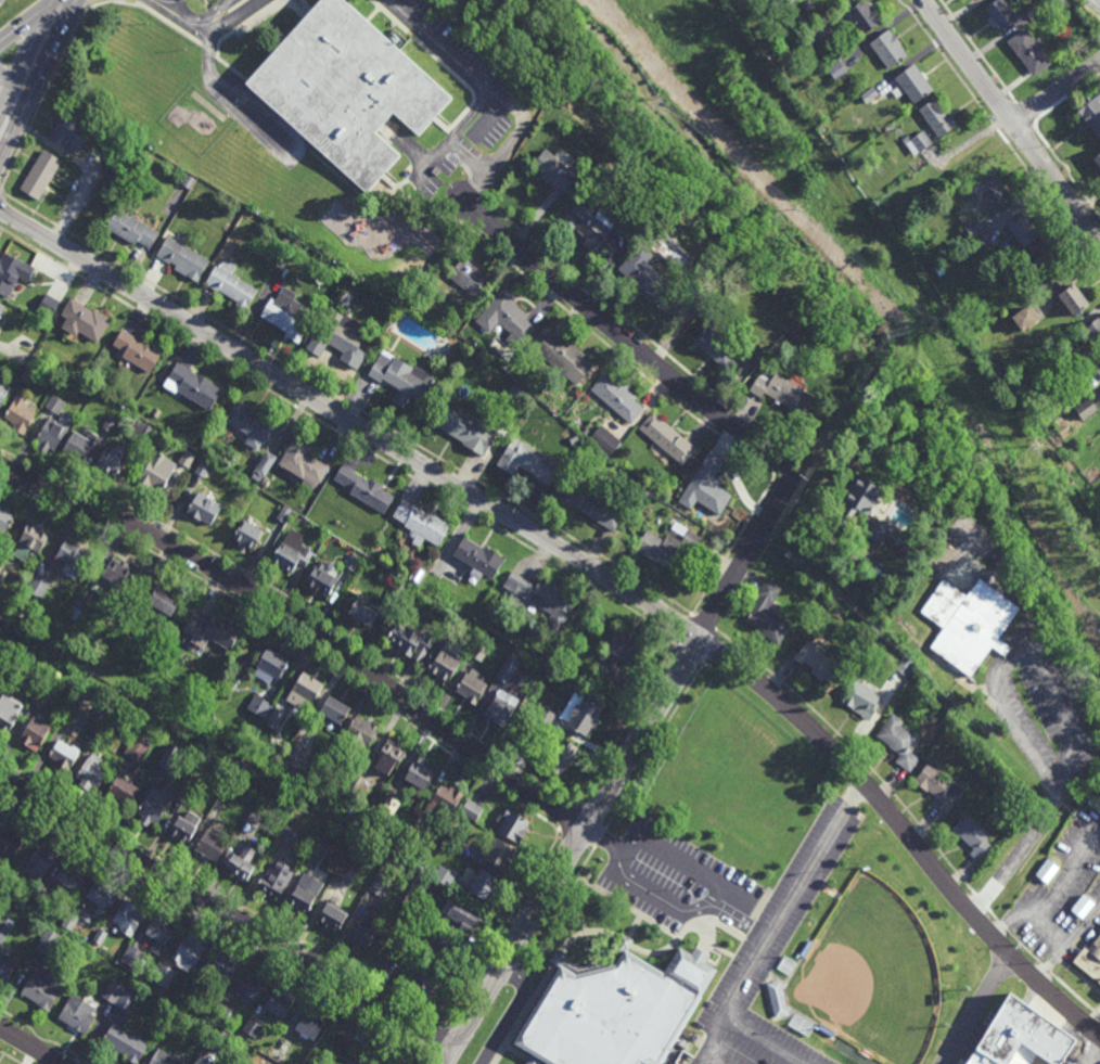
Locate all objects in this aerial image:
road: (120, 0)
building: (788, 0)
road: (230, 1)
road: (1097, 2)
road: (207, 3)
road: (239, 5)
road: (308, 5)
building: (807, 7)
building: (1034, 11)
road: (220, 13)
road: (239, 14)
building: (1000, 14)
building: (862, 15)
road: (372, 16)
road: (179, 18)
road: (26, 21)
road: (244, 24)
road: (175, 28)
building: (811, 37)
road: (286, 40)
building: (887, 48)
road: (37, 51)
road: (979, 51)
building: (1029, 51)
road: (443, 66)
building: (835, 69)
building: (913, 84)
road: (9, 85)
road: (1056, 91)
building: (345, 92)
road: (496, 92)
building: (868, 94)
road: (235, 97)
road: (43, 98)
building: (1089, 111)
road: (1025, 115)
road: (7, 118)
building: (936, 118)
road: (1010, 121)
road: (444, 123)
road: (729, 124)
building: (69, 131)
road: (453, 136)
road: (1000, 136)
building: (916, 142)
road: (410, 149)
road: (303, 153)
building: (1097, 162)
road: (84, 164)
building: (117, 168)
road: (477, 170)
building: (554, 170)
building: (435, 171)
road: (1066, 172)
building: (40, 175)
building: (188, 182)
road: (468, 188)
building: (105, 192)
building: (992, 194)
road: (1, 197)
road: (368, 198)
road: (466, 203)
road: (378, 206)
road: (420, 209)
building: (624, 220)
building: (588, 226)
building: (130, 229)
building: (974, 229)
building: (1023, 231)
building: (983, 240)
building: (284, 242)
building: (294, 247)
building: (182, 259)
building: (1048, 266)
building: (12, 273)
building: (644, 277)
building: (469, 278)
building: (231, 284)
building: (700, 297)
building: (1073, 303)
building: (48, 305)
building: (1, 307)
building: (287, 315)
building: (510, 315)
building: (0, 317)
building: (1025, 320)
building: (84, 321)
road: (634, 325)
building: (1093, 332)
building: (335, 334)
road: (629, 343)
building: (716, 346)
building: (137, 351)
building: (564, 357)
building: (1099, 359)
building: (1099, 361)
building: (1099, 363)
building: (27, 374)
building: (848, 377)
building: (402, 380)
building: (193, 387)
building: (3, 390)
building: (782, 393)
building: (618, 397)
road: (348, 401)
building: (55, 405)
road: (676, 405)
road: (925, 405)
building: (1085, 410)
building: (155, 413)
building: (20, 414)
building: (110, 423)
building: (251, 425)
building: (468, 431)
building: (586, 431)
road: (338, 433)
building: (51, 434)
building: (140, 434)
building: (667, 438)
building: (574, 440)
building: (605, 440)
building: (79, 446)
building: (579, 454)
building: (186, 458)
building: (112, 460)
building: (527, 460)
building: (303, 463)
building: (265, 465)
building: (203, 469)
building: (154, 473)
building: (362, 486)
building: (707, 487)
building: (858, 498)
building: (589, 502)
building: (203, 508)
building: (283, 512)
building: (5, 518)
building: (421, 522)
building: (877, 529)
building: (247, 531)
building: (34, 536)
building: (363, 542)
building: (905, 546)
building: (666, 547)
building: (291, 550)
building: (73, 553)
building: (478, 556)
building: (1001, 557)
building: (351, 561)
building: (1, 566)
road: (592, 568)
building: (117, 572)
building: (417, 574)
building: (320, 578)
building: (38, 586)
building: (397, 589)
building: (538, 597)
building: (161, 599)
road: (300, 605)
building: (78, 606)
building: (362, 608)
building: (903, 612)
building: (767, 613)
road: (703, 621)
building: (968, 623)
building: (450, 624)
building: (194, 625)
road: (305, 625)
road: (683, 627)
building: (221, 631)
building: (187, 637)
road: (295, 637)
building: (408, 638)
building: (551, 639)
road: (709, 648)
building: (478, 650)
building: (618, 652)
road: (690, 652)
road: (1013, 652)
building: (814, 658)
building: (444, 663)
building: (904, 664)
building: (271, 665)
building: (508, 668)
building: (920, 677)
building: (9, 679)
building: (471, 684)
building: (304, 690)
building: (42, 698)
building: (861, 698)
building: (259, 705)
building: (333, 707)
building: (499, 707)
building: (76, 715)
building: (546, 715)
building: (585, 715)
building: (7, 719)
building: (274, 719)
road: (628, 721)
building: (535, 729)
building: (34, 732)
building: (358, 733)
building: (98, 734)
building: (304, 738)
building: (898, 740)
road: (655, 746)
building: (137, 748)
road: (857, 753)
building: (388, 755)
building: (562, 755)
building: (63, 756)
building: (169, 756)
road: (619, 767)
building: (92, 772)
road: (1087, 772)
building: (419, 773)
building: (226, 778)
building: (271, 783)
building: (938, 785)
building: (357, 787)
building: (123, 790)
building: (443, 799)
building: (383, 802)
building: (155, 804)
building: (472, 809)
building: (414, 819)
building: (251, 822)
building: (512, 824)
building: (184, 826)
building: (289, 835)
building: (972, 835)
road: (601, 838)
road: (601, 839)
building: (10, 842)
road: (1021, 843)
building: (210, 845)
building: (500, 854)
building: (39, 863)
building: (241, 863)
road: (588, 863)
road: (681, 863)
building: (1047, 870)
building: (345, 873)
building: (445, 875)
building: (276, 879)
building: (420, 879)
parking lot: (674, 879)
building: (12, 880)
building: (68, 880)
building: (307, 880)
building: (380, 884)
building: (482, 884)
road: (221, 894)
building: (40, 897)
road: (792, 897)
building: (97, 901)
road: (982, 902)
building: (1083, 906)
road: (580, 907)
building: (387, 908)
road: (632, 910)
road: (683, 910)
road: (225, 913)
building: (405, 913)
building: (463, 914)
building: (330, 918)
building: (128, 919)
building: (69, 921)
road: (213, 924)
building: (4, 926)
building: (361, 930)
road: (632, 931)
road: (706, 931)
road: (501, 933)
building: (159, 934)
building: (100, 936)
road: (585, 937)
building: (47, 941)
building: (411, 941)
building: (440, 943)
building: (806, 949)
building: (188, 952)
parking lot: (773, 952)
building: (397, 953)
building: (131, 958)
building: (1090, 959)
road: (1043, 963)
building: (785, 965)
building: (4, 967)
building: (221, 967)
park: (871, 975)
building: (163, 976)
building: (422, 982)
building: (252, 986)
building: (42, 989)
building: (113, 992)
building: (190, 995)
building: (777, 999)
building: (126, 1000)
building: (280, 1003)
road: (513, 1010)
road: (979, 1010)
building: (222, 1011)
road: (1099, 1012)
building: (615, 1013)
building: (77, 1015)
building: (310, 1023)
building: (801, 1025)
road: (740, 1026)
building: (332, 1027)
building: (253, 1029)
building: (826, 1029)
road: (457, 1035)
building: (1020, 1037)
road: (42, 1039)
building: (218, 1039)
road: (437, 1040)
building: (125, 1042)
building: (374, 1043)
road: (30, 1046)
road: (475, 1046)
building: (276, 1052)
building: (318, 1052)
road: (489, 1052)
road: (1092, 1052)
road: (522, 1055)
road: (10, 1057)
building: (164, 1059)
road: (424, 1059)
road: (436, 1059)
building: (357, 1060)
building: (252, 1063)
road: (534, 1063)
road: (534, 1063)

